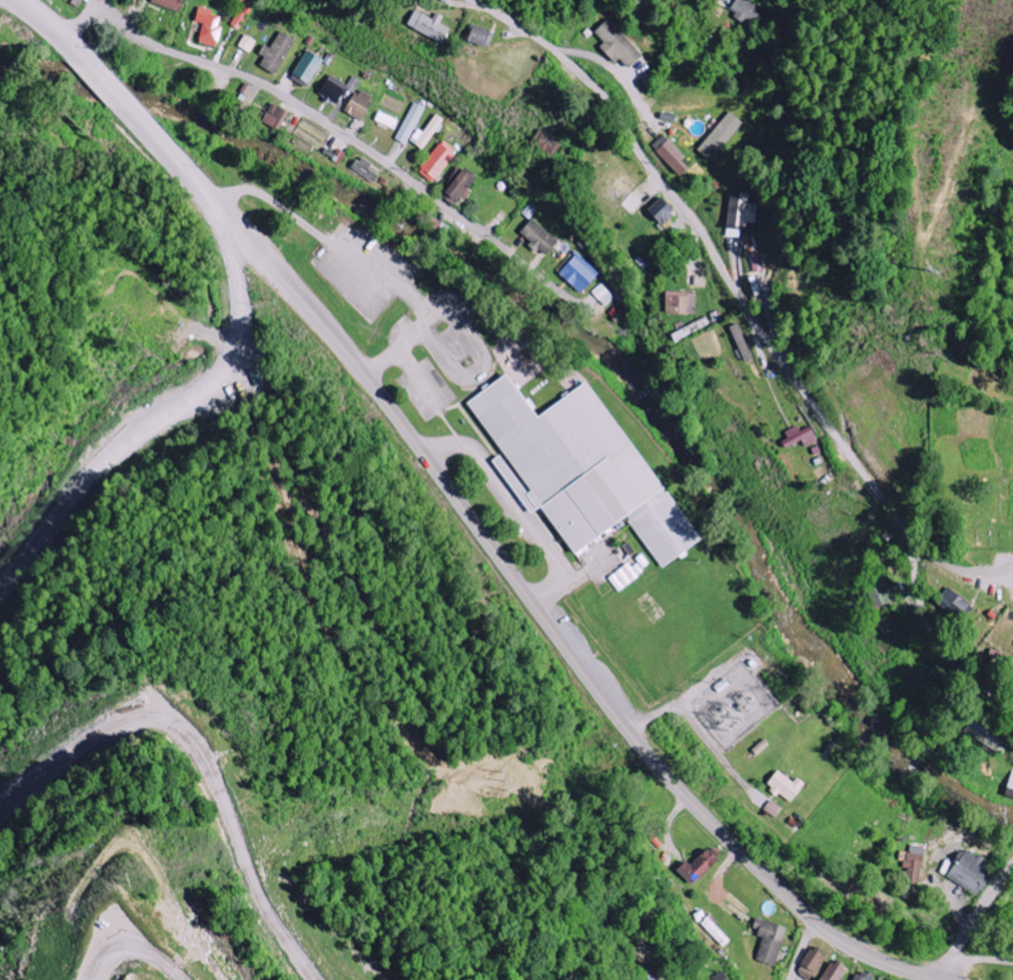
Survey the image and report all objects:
building: (171, 4)
building: (746, 10)
building: (241, 16)
building: (430, 26)
building: (210, 27)
building: (481, 36)
building: (247, 43)
building: (618, 45)
building: (277, 53)
building: (308, 69)
building: (338, 90)
building: (359, 105)
building: (277, 116)
building: (387, 121)
building: (410, 123)
building: (427, 133)
road: (340, 134)
building: (721, 136)
building: (547, 142)
building: (672, 156)
building: (438, 161)
building: (366, 169)
building: (462, 187)
building: (664, 212)
building: (739, 214)
building: (540, 238)
building: (758, 262)
building: (579, 273)
building: (603, 295)
building: (681, 303)
road: (766, 338)
park: (973, 374)
road: (149, 393)
building: (800, 437)
building: (582, 470)
park: (971, 471)
road: (896, 488)
road: (460, 507)
road: (960, 568)
building: (624, 578)
building: (878, 591)
building: (953, 603)
road: (697, 727)
building: (980, 735)
building: (787, 786)
building: (1010, 787)
building: (773, 809)
building: (913, 862)
building: (700, 866)
building: (972, 873)
road: (973, 920)
road: (991, 930)
building: (770, 941)
road: (801, 953)
road: (982, 960)
building: (811, 963)
building: (835, 972)
building: (722, 976)
building: (861, 976)
road: (796, 977)
road: (659, 978)

